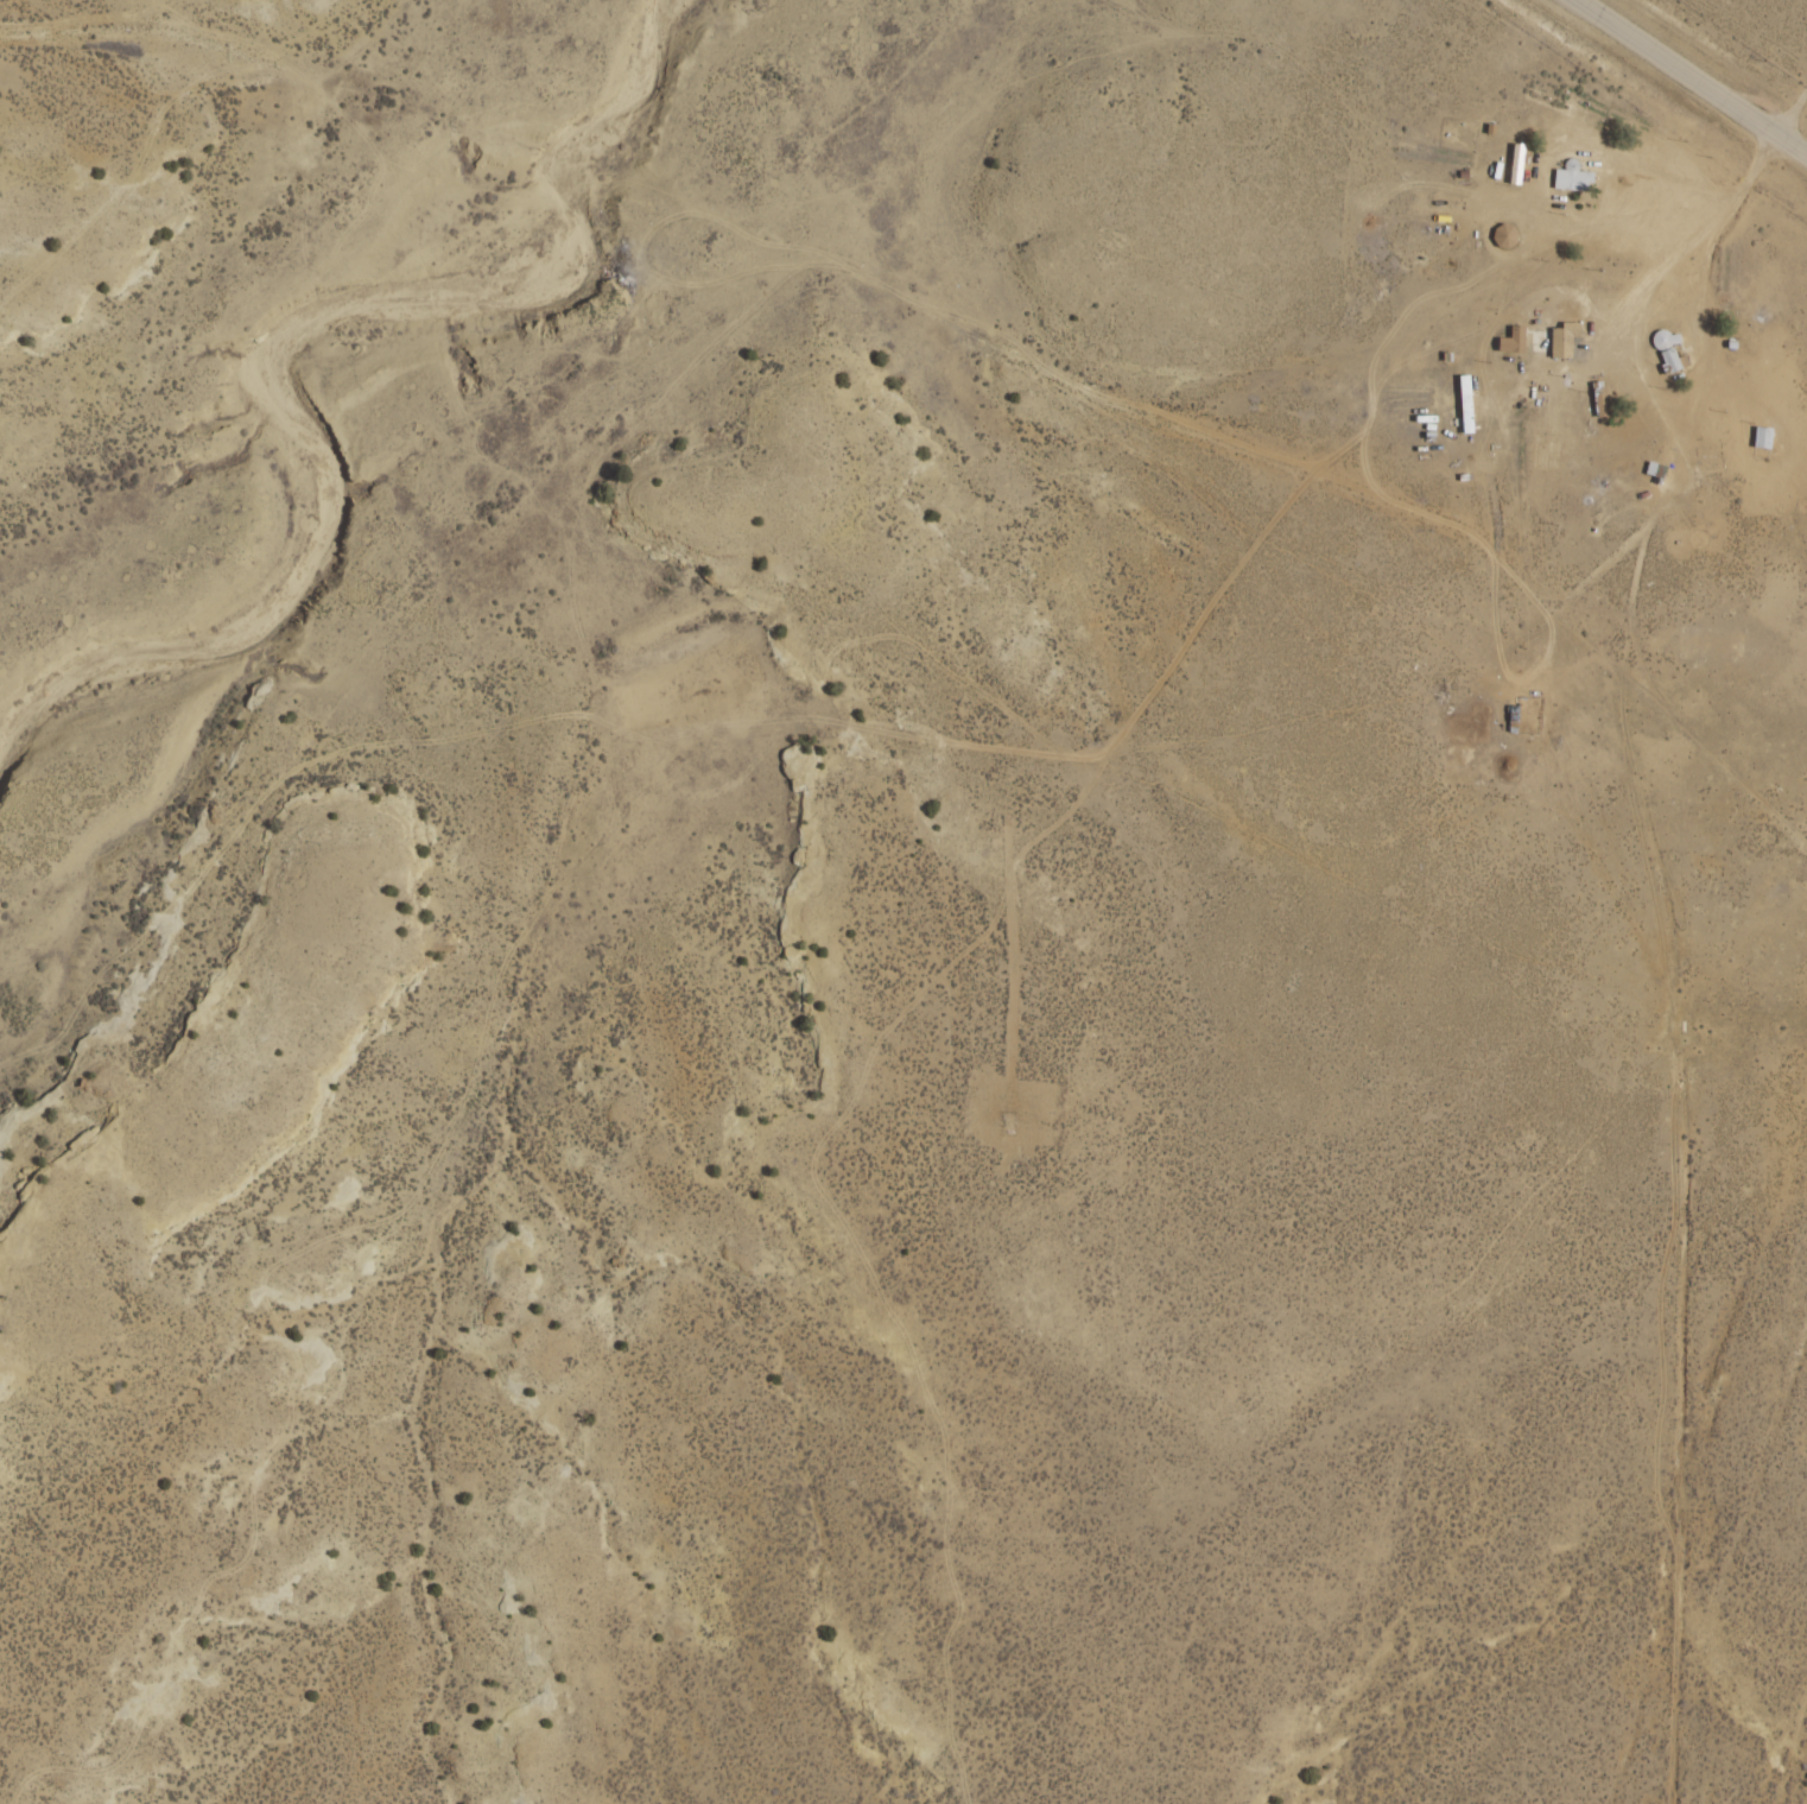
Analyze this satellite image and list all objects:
road: (1769, 88)
road: (1673, 93)
building: (1513, 165)
building: (1571, 181)
building: (1559, 340)
building: (1510, 341)
building: (1597, 399)
road: (1713, 416)
building: (1758, 437)
building: (1651, 470)
building: (1528, 715)
building: (1510, 720)

